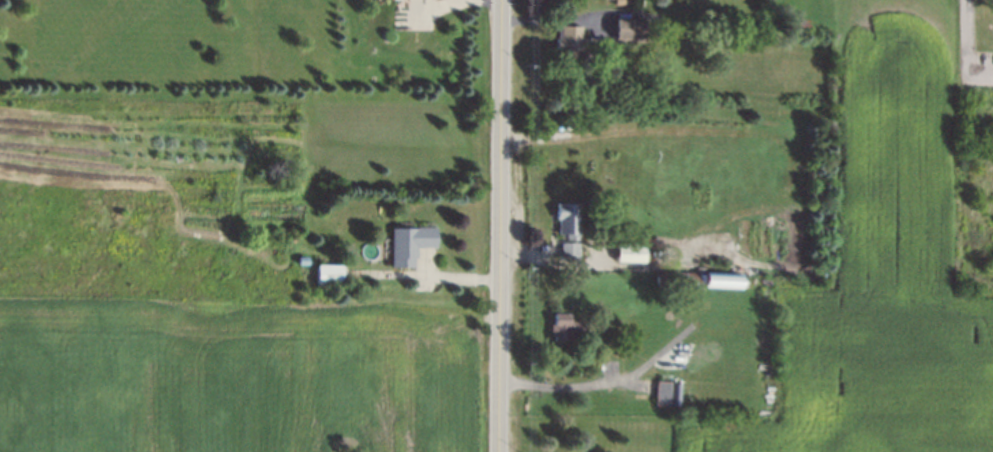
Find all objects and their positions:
building: (622, 1)
building: (629, 26)
building: (566, 45)
road: (962, 51)
building: (568, 221)
road: (500, 225)
building: (409, 246)
building: (568, 252)
building: (630, 254)
building: (329, 276)
building: (676, 281)
building: (721, 281)
building: (563, 325)
crop: (230, 377)
road: (554, 385)
building: (664, 394)

